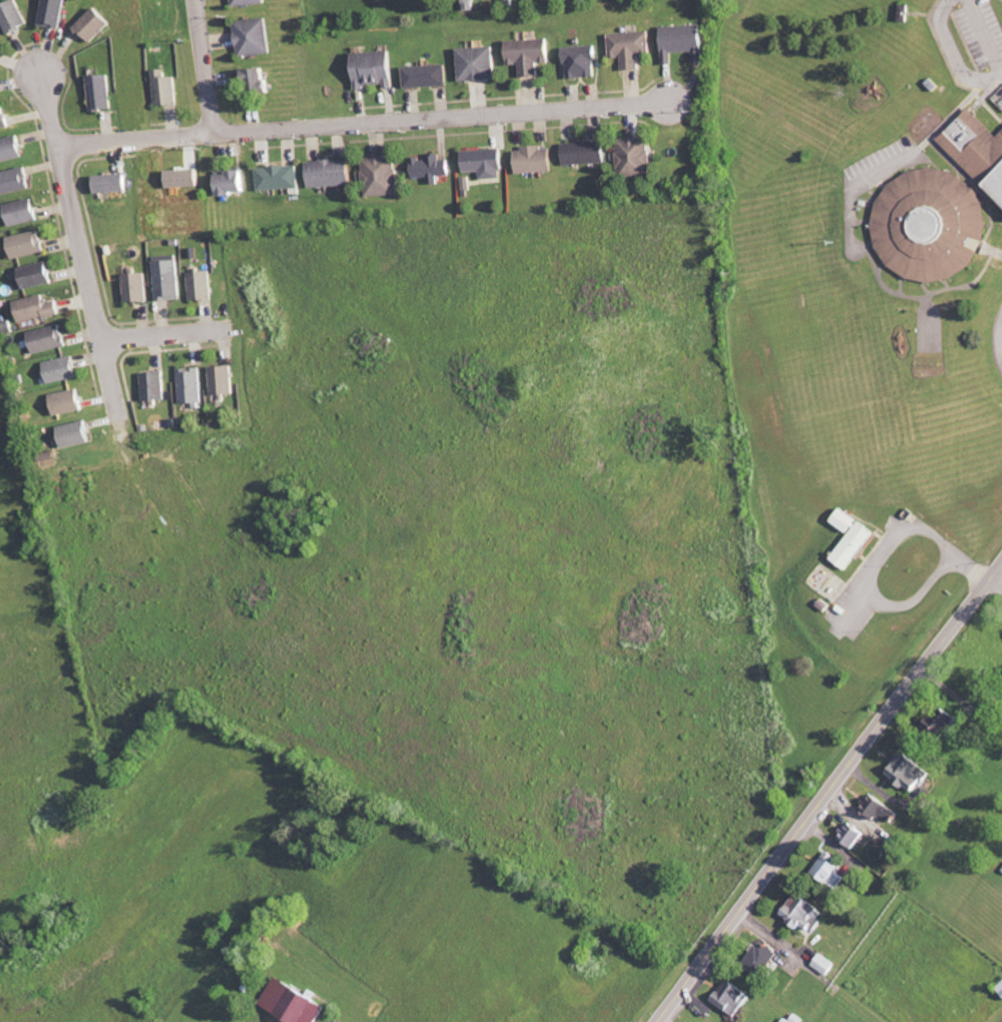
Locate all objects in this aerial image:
building: (249, 2)
building: (470, 5)
building: (54, 13)
building: (14, 17)
building: (94, 25)
building: (255, 37)
building: (685, 41)
building: (630, 48)
building: (529, 55)
building: (581, 61)
building: (478, 63)
building: (375, 69)
building: (427, 76)
building: (258, 81)
building: (166, 88)
building: (101, 93)
building: (3, 117)
road: (372, 124)
road: (133, 140)
building: (11, 149)
building: (585, 153)
building: (636, 157)
building: (535, 159)
building: (485, 163)
building: (431, 168)
building: (329, 173)
building: (380, 176)
building: (278, 177)
building: (184, 178)
building: (14, 181)
building: (231, 182)
building: (111, 183)
building: (942, 207)
building: (22, 212)
building: (27, 244)
road: (78, 248)
building: (37, 275)
building: (167, 280)
building: (201, 286)
building: (136, 288)
building: (37, 309)
road: (163, 336)
building: (48, 339)
road: (998, 341)
building: (61, 370)
building: (222, 380)
building: (154, 386)
building: (191, 386)
building: (68, 402)
building: (77, 434)
building: (846, 521)
building: (856, 546)
road: (875, 565)
road: (996, 580)
building: (943, 725)
building: (910, 772)
road: (828, 791)
building: (881, 809)
building: (853, 835)
building: (833, 871)
building: (804, 914)
building: (764, 959)
building: (825, 965)
building: (1001, 987)
building: (732, 997)
building: (298, 1003)
building: (795, 1017)

